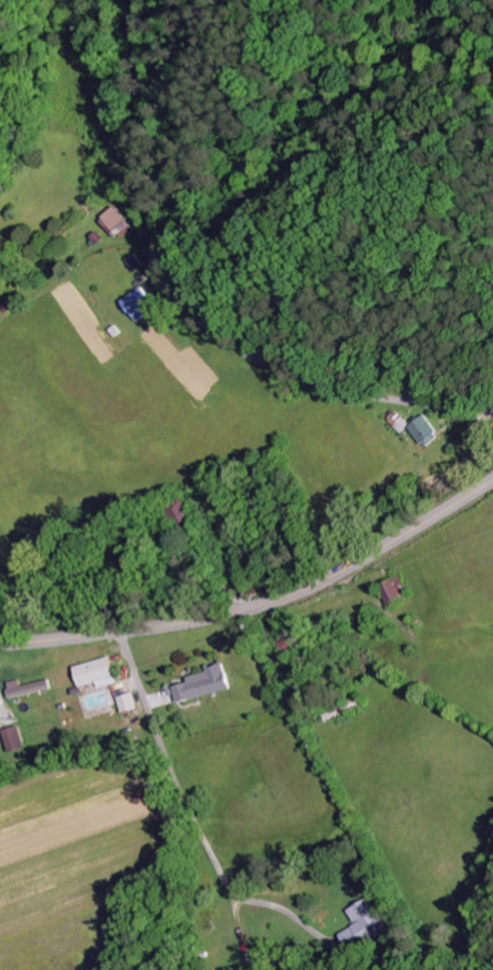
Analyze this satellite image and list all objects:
building: (115, 222)
building: (134, 305)
road: (189, 315)
building: (389, 422)
building: (417, 431)
building: (390, 590)
road: (260, 605)
building: (93, 673)
building: (200, 684)
building: (24, 688)
building: (125, 702)
building: (10, 739)
road: (148, 799)
building: (362, 924)

